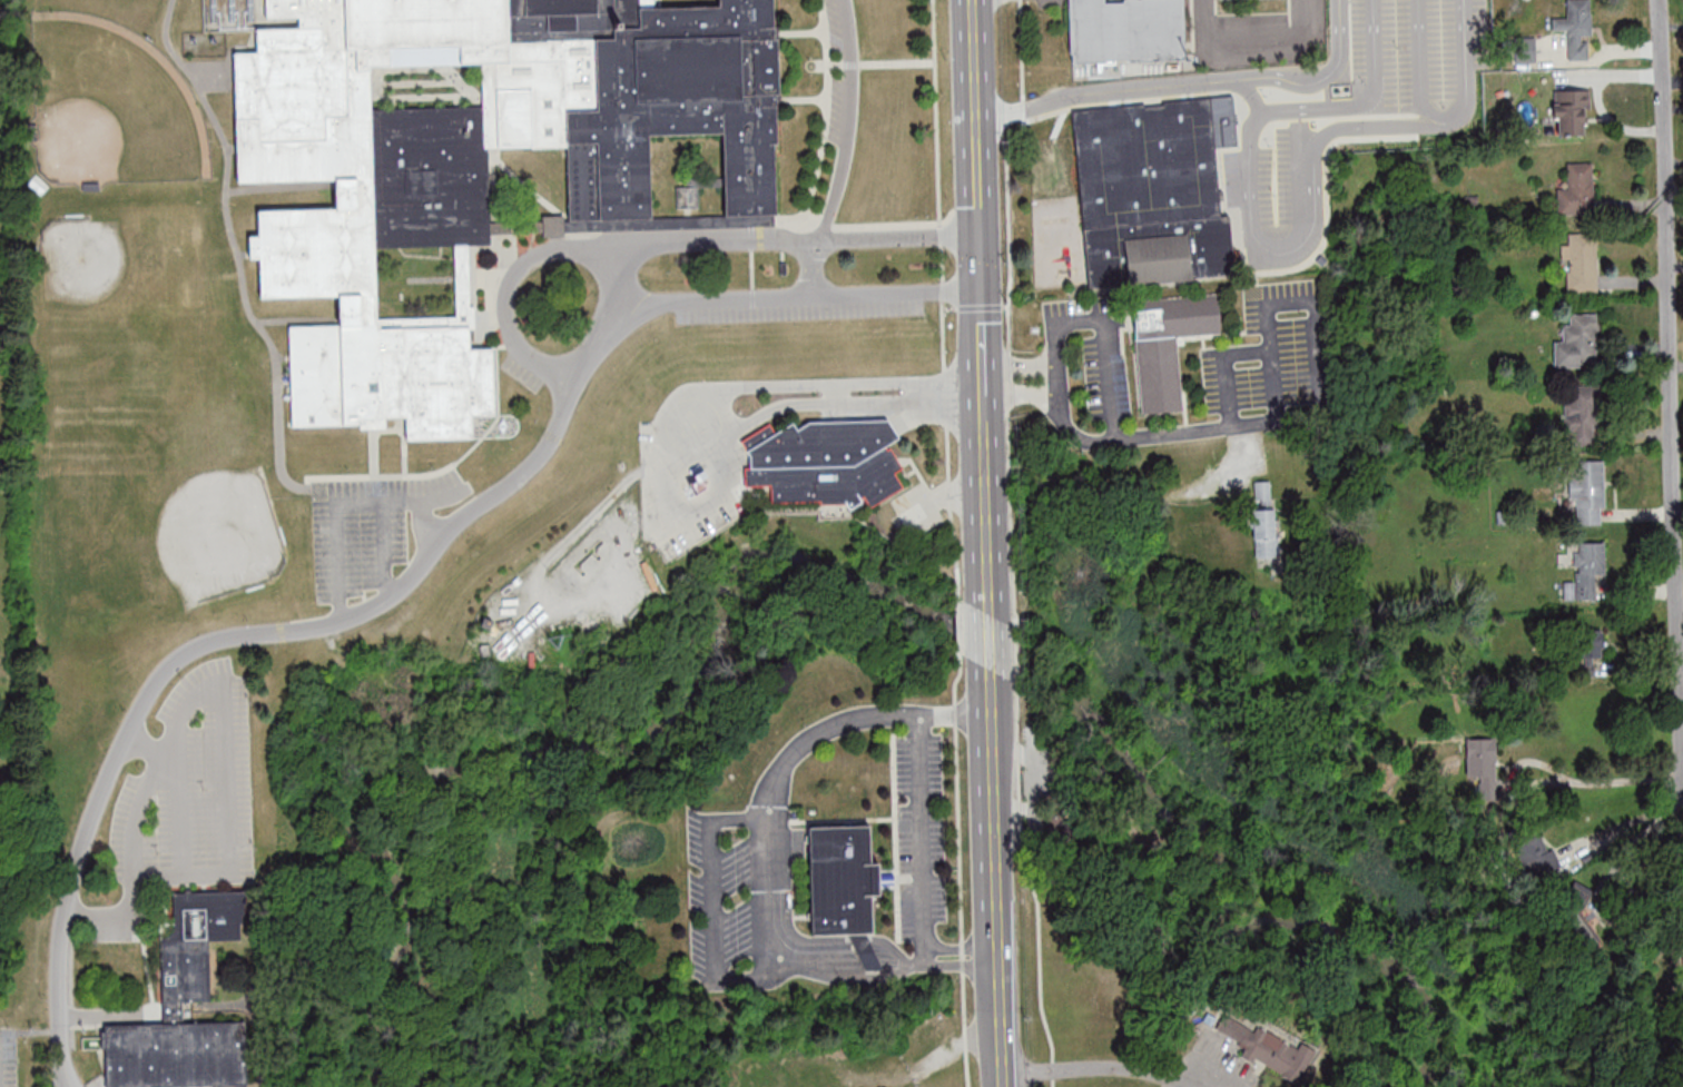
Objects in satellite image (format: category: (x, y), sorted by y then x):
building: (1577, 28)
building: (1125, 30)
road: (1250, 45)
road: (1465, 63)
road: (1417, 71)
road: (1191, 82)
road: (1360, 102)
road: (936, 111)
building: (1571, 111)
road: (848, 123)
road: (1386, 127)
road: (1023, 130)
road: (974, 146)
building: (469, 162)
building: (1152, 189)
building: (1576, 190)
road: (1257, 234)
road: (671, 247)
traffic signals: (978, 263)
building: (1581, 263)
road: (813, 270)
road: (616, 283)
road: (795, 299)
road: (1103, 342)
building: (1577, 342)
building: (1165, 343)
road: (981, 345)
road: (1020, 364)
road: (1057, 377)
road: (835, 391)
road: (1669, 392)
road: (1021, 395)
road: (1321, 406)
road: (720, 407)
building: (1581, 415)
road: (983, 417)
building: (824, 462)
building: (1587, 490)
road: (345, 503)
building: (1264, 520)
road: (426, 522)
road: (986, 524)
road: (385, 547)
river: (811, 569)
building: (1585, 573)
road: (1677, 574)
road: (1679, 622)
road: (269, 634)
building: (1584, 642)
road: (990, 643)
road: (955, 715)
road: (815, 731)
building: (1483, 762)
road: (1554, 774)
road: (224, 800)
road: (994, 803)
road: (135, 814)
building: (1064, 829)
road: (1634, 837)
building: (1534, 853)
road: (1680, 864)
building: (844, 886)
road: (767, 897)
building: (1574, 907)
road: (961, 945)
road: (962, 962)
building: (188, 970)
road: (837, 975)
road: (1001, 1009)
building: (1274, 1053)
road: (66, 1056)
road: (1093, 1069)

